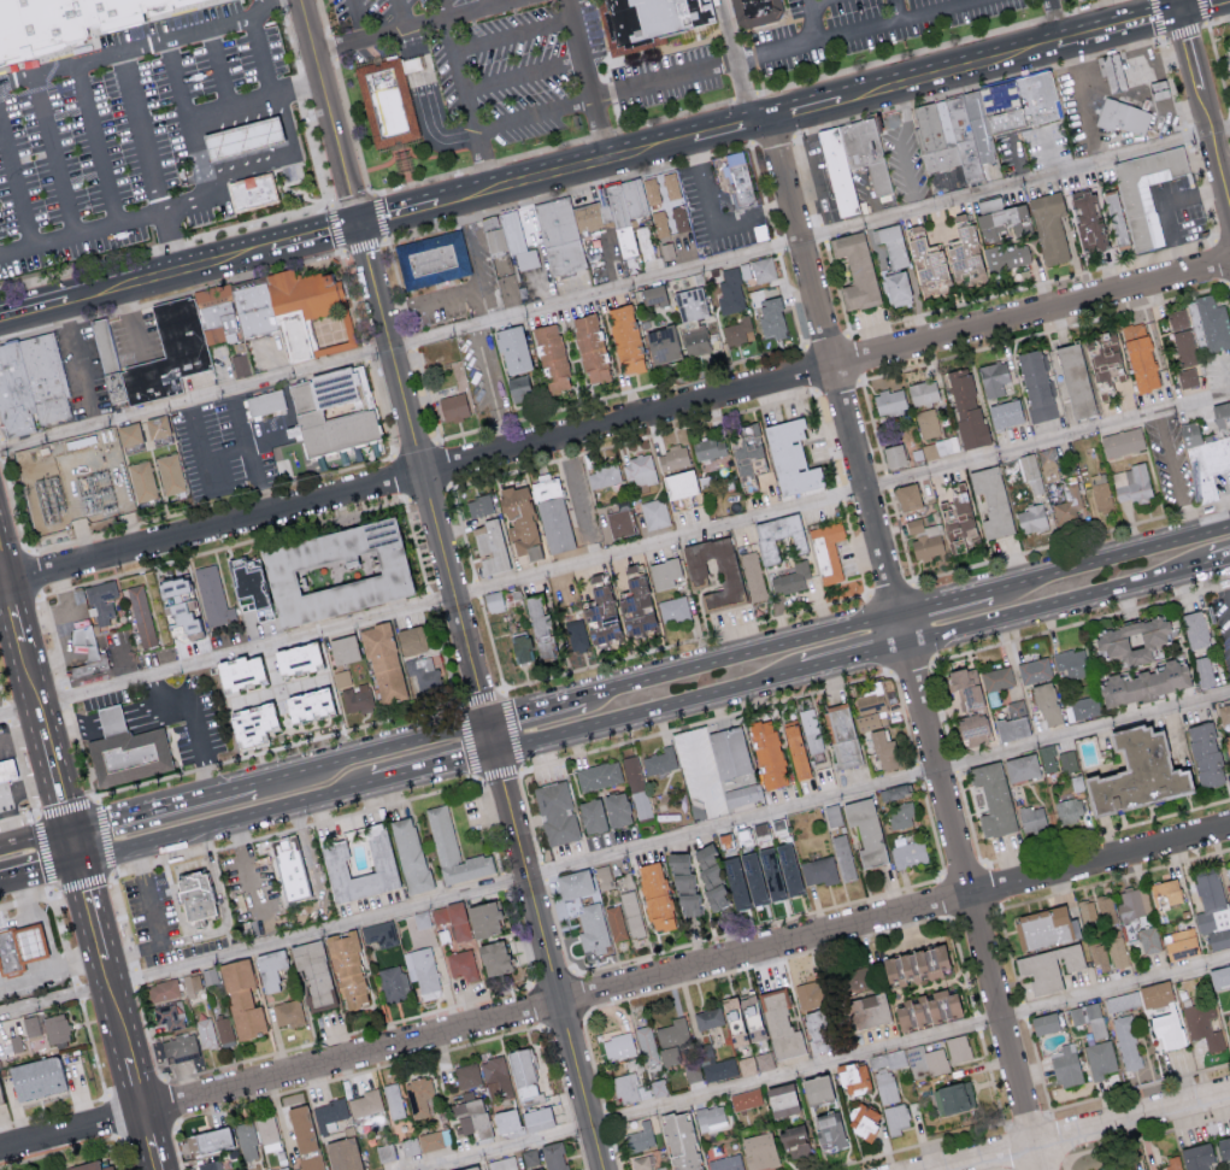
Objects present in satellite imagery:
building: (218, 0)
road: (807, 0)
road: (492, 4)
road: (1229, 4)
road: (1203, 6)
building: (133, 10)
road: (448, 10)
building: (759, 11)
road: (899, 11)
road: (402, 16)
building: (655, 17)
road: (808, 19)
road: (1059, 20)
road: (359, 22)
building: (42, 27)
road: (1119, 27)
road: (419, 28)
parking lot: (866, 28)
road: (518, 36)
road: (789, 45)
road: (147, 46)
road: (258, 60)
road: (734, 60)
road: (216, 71)
road: (948, 71)
building: (1116, 72)
road: (526, 75)
parking lot: (505, 80)
road: (592, 80)
building: (1160, 90)
road: (1202, 100)
building: (388, 101)
road: (1082, 101)
building: (1019, 104)
road: (255, 105)
road: (471, 105)
road: (805, 108)
road: (330, 112)
road: (539, 116)
building: (1129, 119)
road: (731, 128)
building: (979, 128)
road: (142, 133)
parking lot: (119, 136)
building: (964, 139)
road: (192, 140)
building: (248, 140)
gas station: (248, 140)
building: (935, 142)
road: (94, 145)
road: (899, 147)
building: (869, 153)
road: (1224, 154)
road: (53, 155)
road: (1049, 155)
road: (1017, 158)
road: (17, 169)
road: (567, 171)
building: (841, 171)
building: (954, 177)
building: (743, 181)
building: (664, 189)
building: (255, 192)
building: (637, 196)
road: (869, 198)
building: (1143, 200)
building: (988, 204)
road: (1166, 207)
road: (524, 211)
road: (401, 214)
building: (593, 218)
road: (713, 218)
building: (622, 219)
building: (1087, 221)
building: (672, 222)
traffic signals: (360, 225)
building: (1049, 225)
road: (82, 233)
road: (316, 236)
building: (561, 236)
road: (175, 241)
building: (519, 241)
building: (647, 243)
building: (890, 243)
building: (499, 248)
building: (667, 249)
building: (961, 251)
building: (1007, 257)
building: (434, 259)
building: (924, 259)
road: (217, 261)
building: (855, 269)
road: (613, 287)
road: (117, 288)
road: (476, 288)
building: (895, 288)
building: (652, 294)
building: (730, 295)
building: (689, 302)
road: (35, 308)
building: (260, 308)
building: (769, 312)
building: (224, 319)
road: (133, 321)
building: (1212, 324)
building: (738, 330)
building: (1182, 336)
building: (624, 337)
building: (295, 340)
building: (694, 341)
building: (660, 343)
building: (589, 347)
building: (512, 348)
building: (743, 349)
building: (176, 353)
building: (551, 355)
building: (1138, 355)
building: (1104, 359)
building: (114, 360)
road: (82, 363)
building: (240, 364)
building: (1187, 377)
building: (993, 378)
building: (1073, 380)
building: (35, 384)
building: (1035, 384)
road: (488, 388)
building: (517, 388)
building: (923, 392)
building: (265, 401)
building: (889, 401)
building: (454, 406)
building: (965, 406)
building: (358, 413)
building: (1004, 413)
building: (1223, 418)
road: (613, 419)
building: (926, 422)
building: (157, 428)
building: (128, 434)
building: (1193, 435)
road: (242, 441)
building: (1122, 441)
road: (198, 442)
building: (708, 447)
building: (935, 447)
building: (746, 453)
building: (893, 454)
building: (671, 457)
building: (789, 458)
road: (249, 460)
building: (1049, 464)
building: (1208, 468)
building: (638, 469)
building: (1030, 471)
building: (170, 474)
building: (604, 475)
road: (1172, 475)
building: (142, 481)
power substation: (77, 482)
building: (678, 483)
building: (1130, 483)
building: (906, 495)
road: (578, 496)
building: (1100, 496)
building: (990, 501)
building: (479, 505)
building: (1067, 505)
building: (654, 512)
building: (551, 515)
building: (1030, 518)
building: (955, 522)
building: (519, 523)
building: (620, 523)
building: (777, 535)
building: (924, 539)
building: (489, 546)
building: (826, 551)
road: (614, 554)
road: (1114, 554)
road: (1220, 563)
road: (4, 570)
building: (332, 571)
building: (663, 572)
building: (753, 575)
building: (790, 578)
road: (1225, 582)
building: (247, 589)
building: (213, 599)
road: (948, 599)
building: (493, 600)
building: (632, 600)
building: (107, 601)
building: (178, 605)
road: (1059, 607)
building: (672, 608)
road: (14, 613)
building: (141, 615)
building: (599, 616)
building: (1194, 629)
building: (539, 630)
building: (575, 635)
building: (1131, 639)
building: (411, 640)
building: (90, 641)
road: (905, 643)
building: (520, 647)
building: (342, 648)
road: (741, 653)
building: (294, 658)
building: (383, 663)
road: (854, 663)
building: (1070, 663)
road: (129, 664)
building: (99, 669)
building: (1034, 670)
building: (237, 671)
building: (1202, 671)
building: (426, 674)
building: (341, 677)
building: (996, 677)
building: (1142, 683)
building: (964, 686)
road: (481, 698)
building: (357, 699)
building: (242, 701)
building: (1046, 704)
building: (305, 705)
road: (535, 706)
building: (1084, 706)
building: (869, 711)
road: (142, 712)
building: (1224, 713)
road: (649, 718)
traffic signals: (487, 719)
road: (193, 721)
building: (1012, 722)
building: (249, 724)
building: (969, 724)
road: (72, 728)
building: (811, 730)
building: (842, 736)
building: (972, 740)
building: (883, 748)
road: (369, 749)
building: (794, 749)
building: (126, 751)
building: (766, 752)
building: (1205, 754)
building: (1047, 758)
traffic signals: (498, 760)
building: (660, 760)
building: (1067, 760)
building: (1019, 766)
building: (717, 770)
building: (7, 771)
building: (1134, 774)
building: (599, 775)
road: (436, 776)
road: (702, 782)
building: (636, 787)
building: (891, 792)
building: (991, 799)
road: (160, 804)
building: (616, 809)
building: (1067, 811)
building: (559, 815)
building: (590, 815)
building: (832, 815)
building: (900, 815)
building: (1032, 818)
traffic signals: (71, 828)
building: (864, 829)
road: (229, 830)
road: (35, 837)
road: (76, 847)
building: (454, 853)
road: (614, 853)
building: (907, 853)
building: (412, 857)
building: (842, 857)
road: (537, 859)
building: (381, 865)
building: (1229, 868)
traffic signals: (82, 869)
building: (787, 869)
building: (818, 870)
building: (292, 871)
building: (602, 871)
building: (769, 872)
road: (41, 878)
building: (728, 878)
building: (683, 883)
road: (249, 887)
road: (318, 890)
building: (1164, 892)
building: (204, 895)
building: (654, 896)
road: (25, 899)
building: (1134, 904)
building: (581, 909)
building: (1096, 910)
building: (1212, 911)
building: (632, 913)
parking lot: (152, 918)
building: (422, 918)
building: (467, 918)
building: (616, 922)
road: (157, 928)
building: (1043, 928)
building: (375, 933)
road: (63, 937)
building: (1148, 939)
building: (1181, 943)
building: (25, 947)
building: (1117, 948)
building: (1099, 954)
building: (494, 957)
building: (461, 964)
building: (912, 964)
building: (1046, 968)
building: (269, 969)
building: (346, 970)
building: (423, 971)
building: (313, 972)
building: (210, 975)
building: (1219, 975)
building: (854, 980)
building: (393, 982)
building: (193, 983)
road: (614, 988)
building: (163, 989)
road: (77, 992)
building: (808, 994)
building: (1154, 994)
building: (241, 999)
building: (1120, 1001)
building: (925, 1010)
building: (865, 1011)
building: (287, 1012)
building: (169, 1017)
building: (707, 1017)
building: (742, 1017)
building: (1089, 1018)
building: (1228, 1019)
building: (1042, 1023)
building: (1202, 1024)
building: (31, 1025)
building: (779, 1027)
building: (57, 1028)
building: (1167, 1029)
building: (224, 1030)
building: (818, 1030)
building: (673, 1031)
building: (206, 1033)
building: (646, 1040)
building: (16, 1042)
building: (1126, 1042)
building: (181, 1046)
building: (619, 1046)
building: (958, 1047)
road: (93, 1048)
building: (669, 1056)
building: (1100, 1059)
building: (764, 1060)
building: (929, 1063)
building: (714, 1064)
building: (746, 1065)
building: (1066, 1065)
road: (822, 1066)
building: (522, 1072)
building: (691, 1072)
building: (887, 1074)
building: (467, 1075)
building: (496, 1077)
building: (35, 1078)
building: (853, 1078)
road: (139, 1081)
building: (658, 1087)
building: (630, 1088)
building: (814, 1089)
building: (419, 1095)
building: (952, 1096)
building: (746, 1099)
building: (394, 1100)
building: (779, 1100)
building: (0, 1103)
building: (366, 1103)
road: (54, 1110)
building: (472, 1112)
building: (329, 1115)
road: (113, 1116)
building: (710, 1117)
building: (535, 1118)
building: (895, 1118)
building: (505, 1121)
building: (863, 1122)
building: (463, 1124)
building: (266, 1129)
building: (300, 1129)
building: (828, 1131)
road: (1090, 1133)
building: (641, 1136)
road: (153, 1139)
building: (435, 1139)
building: (247, 1140)
building: (791, 1140)
building: (207, 1141)
building: (679, 1141)
building: (410, 1146)
building: (1223, 1148)
road: (59, 1150)
building: (758, 1151)
building: (386, 1152)
road: (120, 1153)
building: (342, 1154)
building: (553, 1156)
building: (530, 1157)
building: (1195, 1157)
building: (312, 1163)
building: (504, 1163)
building: (642, 1163)
building: (726, 1163)
building: (1171, 1164)
building: (210, 1165)
building: (92, 1168)
building: (469, 1168)
building: (537, 1169)
building: (665, 1169)
building: (1102, 1169)
building: (1129, 1169)

